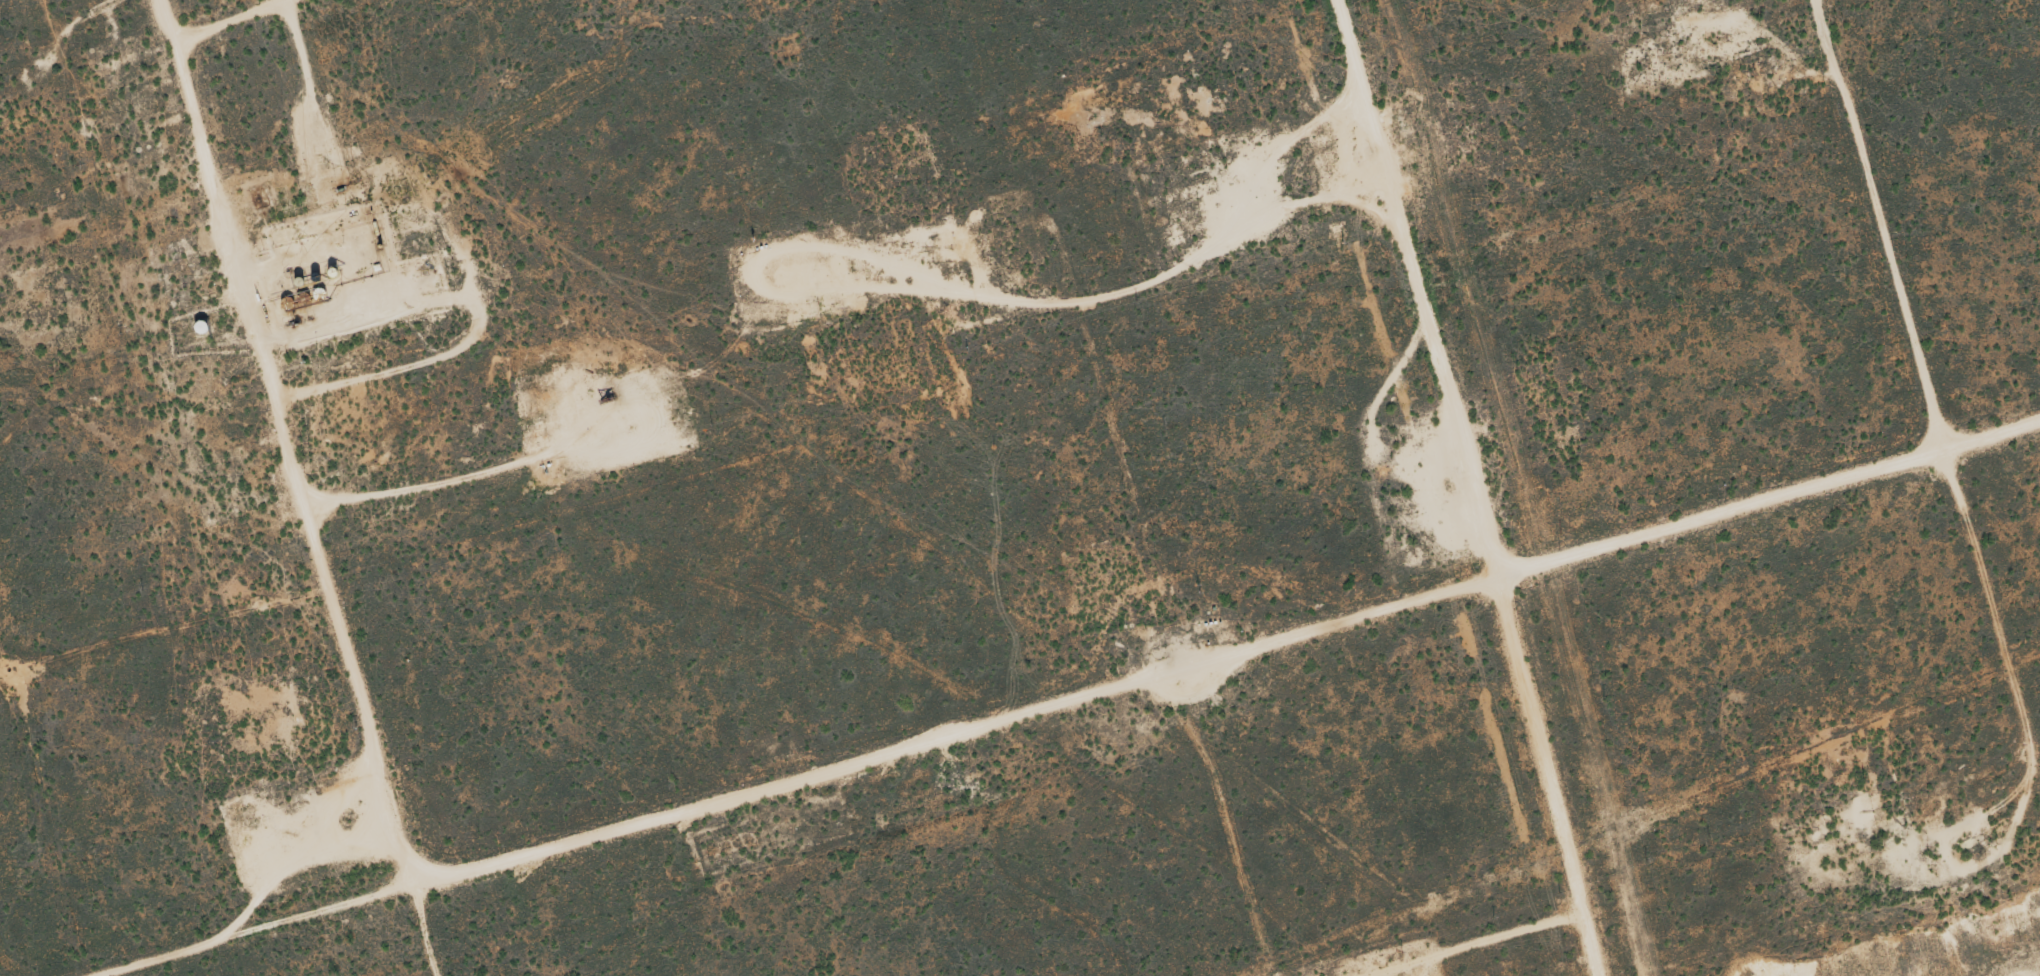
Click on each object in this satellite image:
road: (1869, 231)
road: (1487, 486)
road: (1034, 694)

